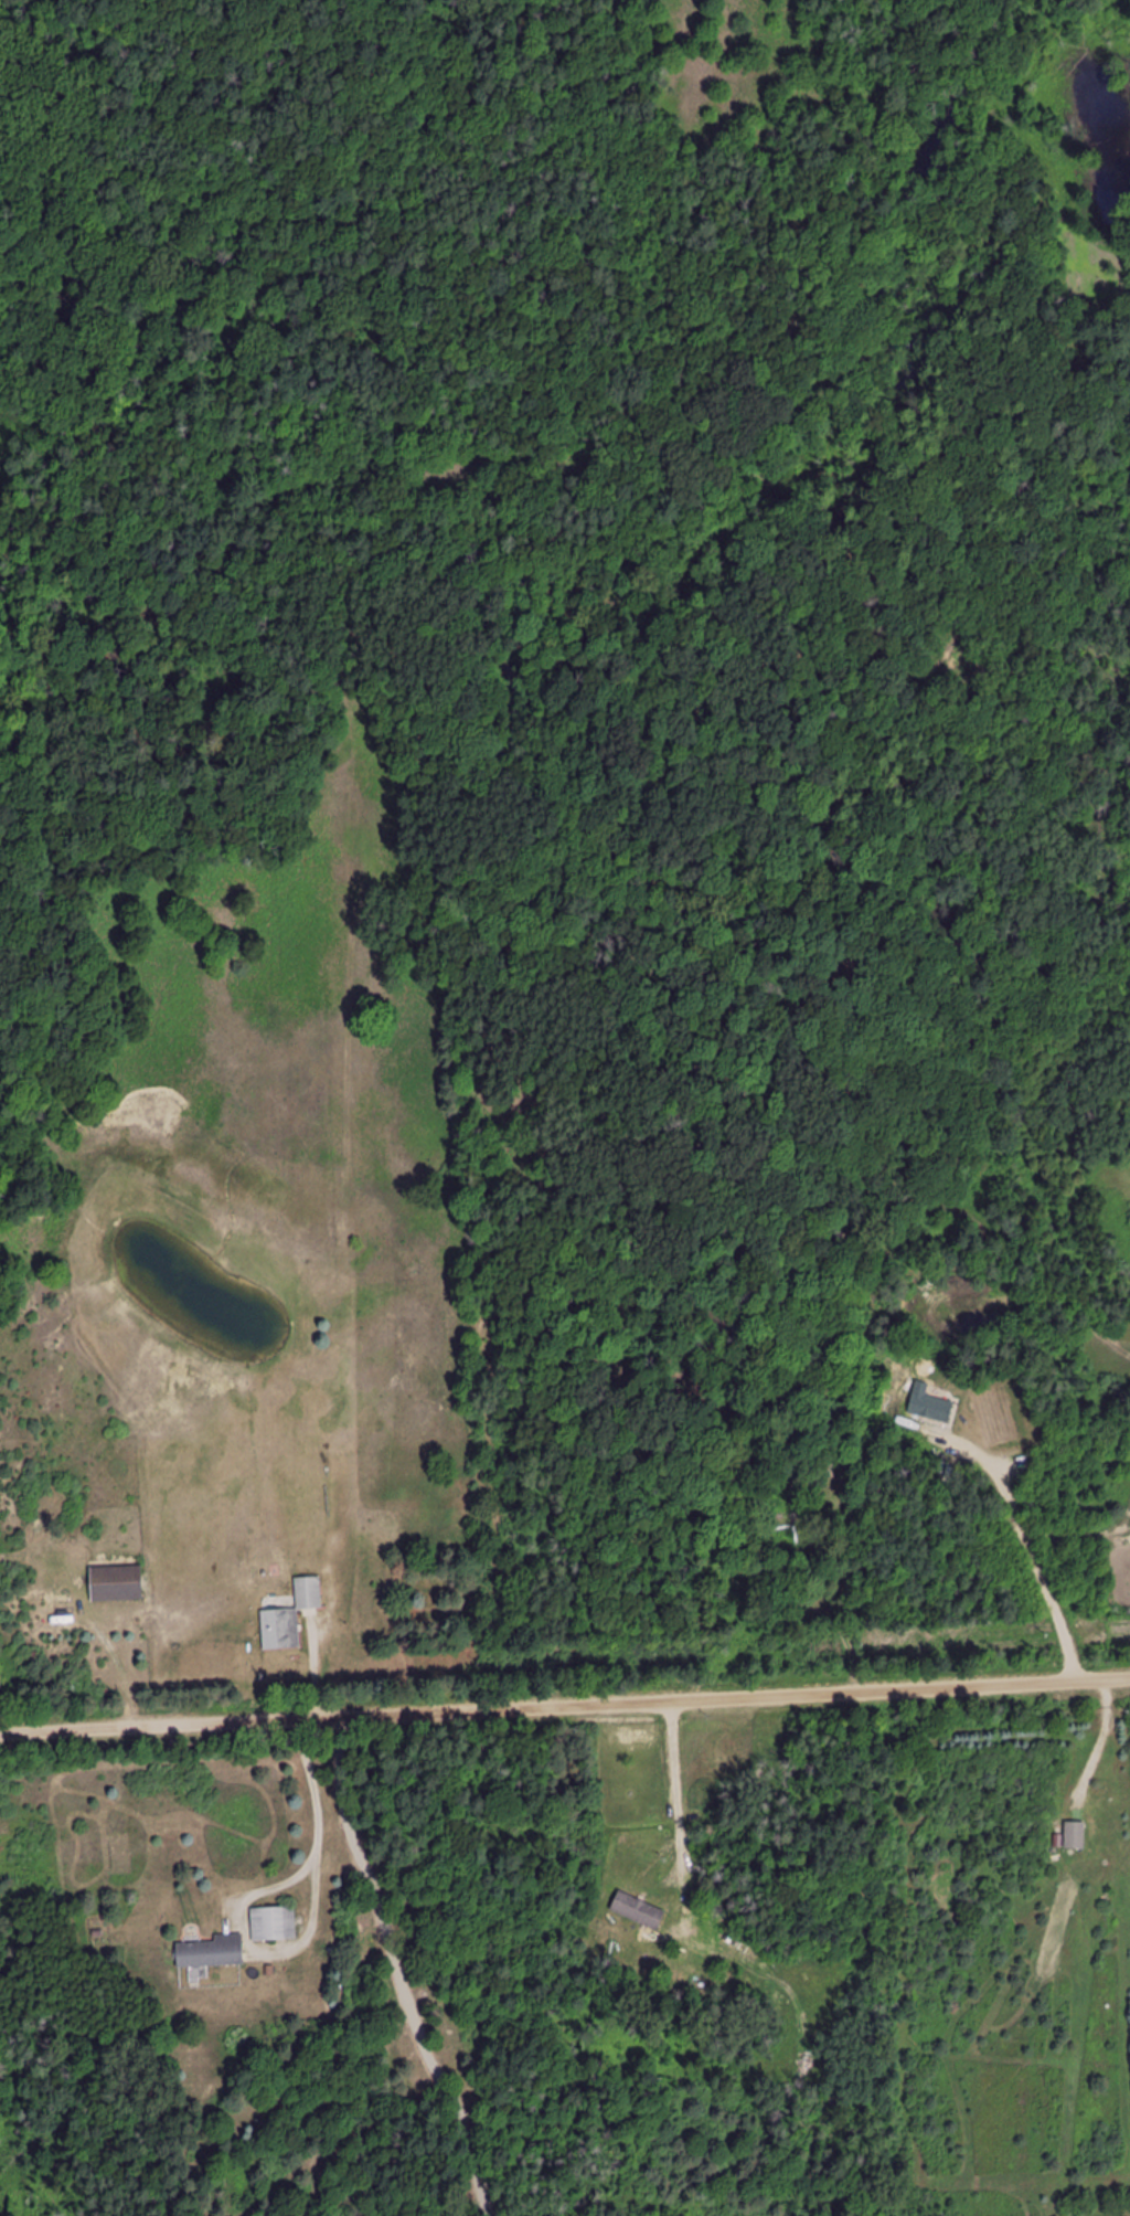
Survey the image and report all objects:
building: (116, 1584)
building: (290, 1616)
road: (565, 1705)
building: (1075, 1835)
building: (637, 1911)
building: (274, 1922)
building: (211, 1951)

